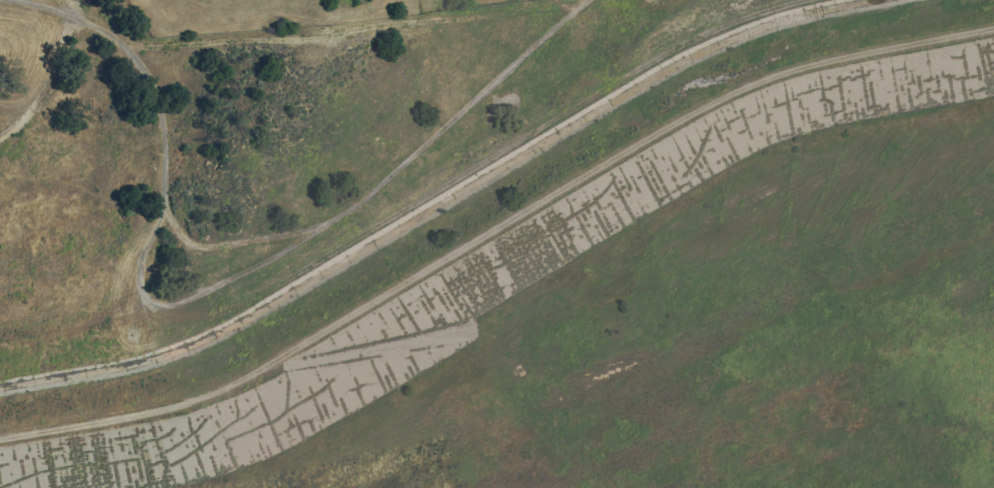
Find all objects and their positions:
road: (30, 4)
road: (495, 230)
road: (231, 245)
road: (246, 271)

